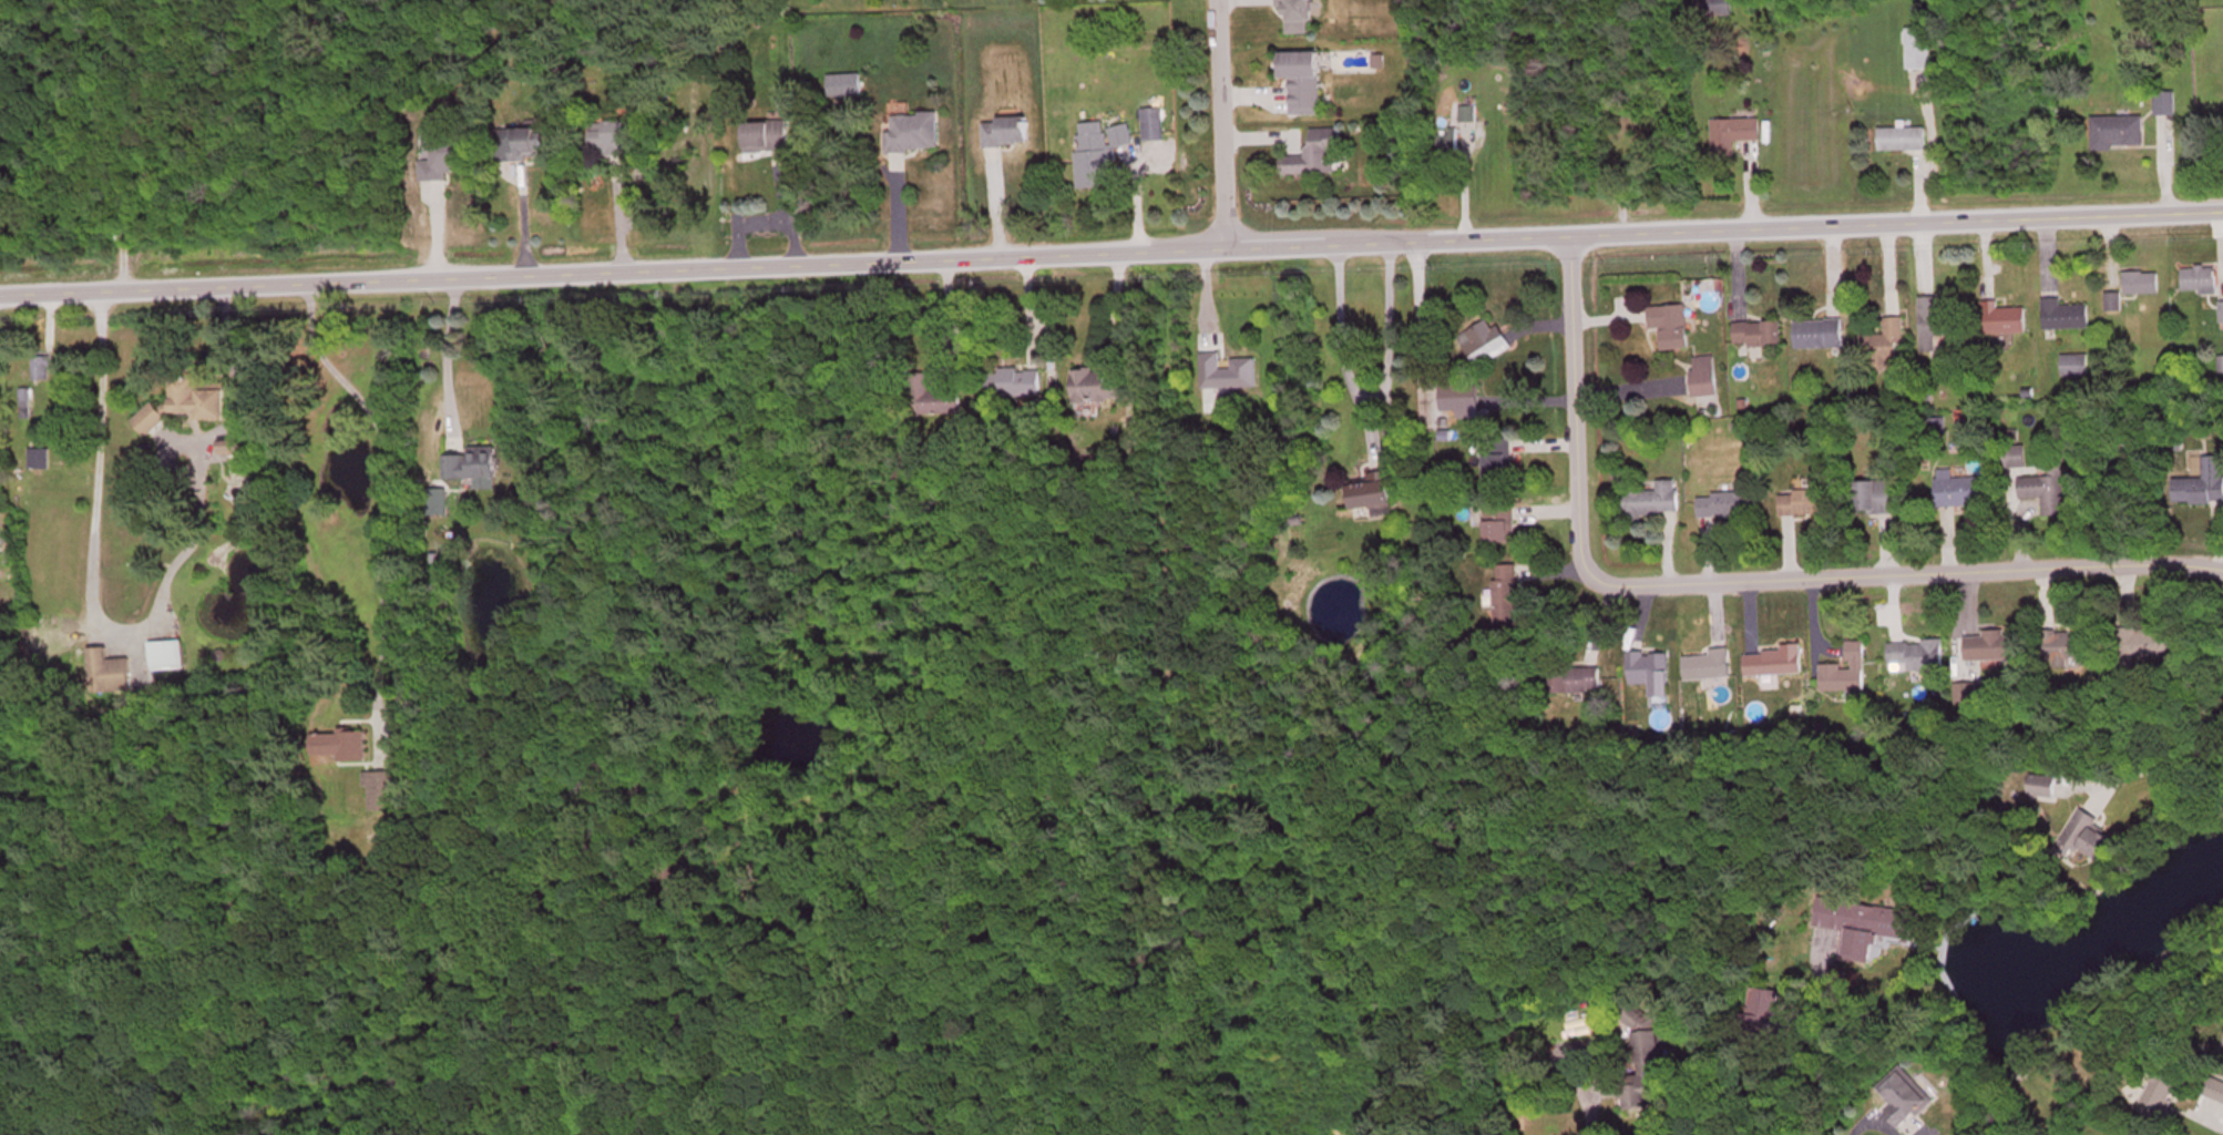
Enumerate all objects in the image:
building: (1720, 10)
building: (1300, 17)
building: (1922, 51)
building: (1305, 84)
building: (846, 88)
building: (2168, 105)
building: (1471, 117)
road: (1216, 122)
building: (2120, 134)
building: (915, 135)
building: (1008, 135)
building: (1735, 135)
building: (769, 140)
building: (613, 141)
building: (1904, 142)
building: (529, 145)
building: (1451, 145)
building: (1099, 155)
building: (1319, 156)
building: (444, 157)
road: (1110, 248)
building: (2202, 283)
building: (2143, 286)
building: (2068, 318)
road: (1420, 319)
building: (1969, 325)
road: (1389, 329)
building: (1674, 329)
building: (1762, 337)
building: (1822, 337)
building: (1886, 345)
building: (1487, 346)
road: (1344, 350)
building: (2221, 367)
building: (2078, 368)
building: (1230, 376)
building: (1708, 379)
building: (1016, 385)
building: (1099, 389)
building: (1462, 403)
building: (939, 405)
road: (1570, 406)
building: (185, 407)
building: (235, 449)
building: (2021, 459)
building: (1500, 461)
building: (474, 467)
building: (2202, 488)
building: (1966, 492)
building: (2050, 492)
building: (1374, 494)
building: (1881, 500)
building: (1652, 502)
building: (1807, 505)
building: (1732, 508)
building: (1503, 525)
road: (1904, 581)
building: (1509, 596)
building: (2155, 647)
building: (1995, 648)
building: (2069, 648)
building: (168, 657)
building: (1922, 657)
building: (1779, 664)
building: (1711, 668)
building: (1850, 673)
building: (109, 675)
building: (1659, 679)
building: (1586, 683)
building: (1969, 695)
building: (345, 748)
building: (2046, 789)
building: (382, 794)
building: (2091, 839)
road: (1909, 865)
building: (1868, 930)
building: (2170, 958)
building: (1770, 1012)
building: (1648, 1066)
building: (2215, 1092)
building: (2162, 1100)
building: (1906, 1104)

